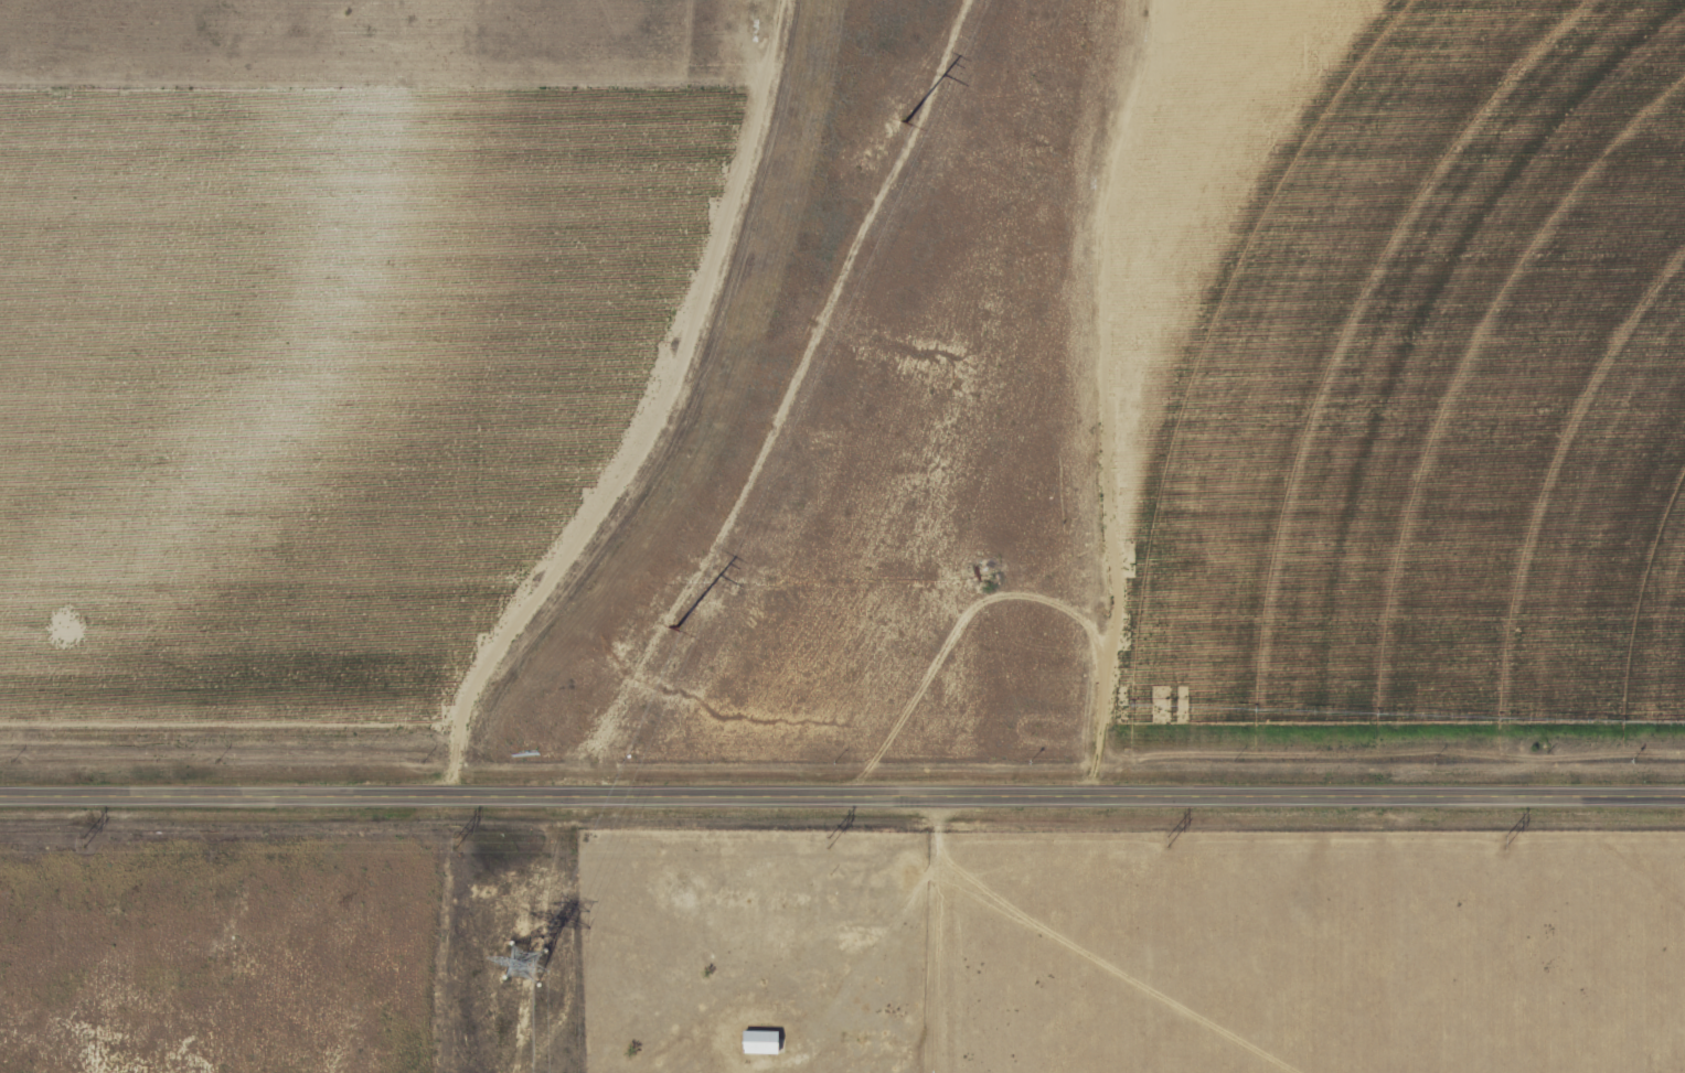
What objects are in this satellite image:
power tower: (902, 124)
power tower: (678, 627)
road: (842, 797)
power tower: (83, 839)
power tower: (1171, 840)
power tower: (1514, 843)
power tower: (460, 844)
power tower: (832, 844)
power tower: (526, 968)
building: (760, 1042)

